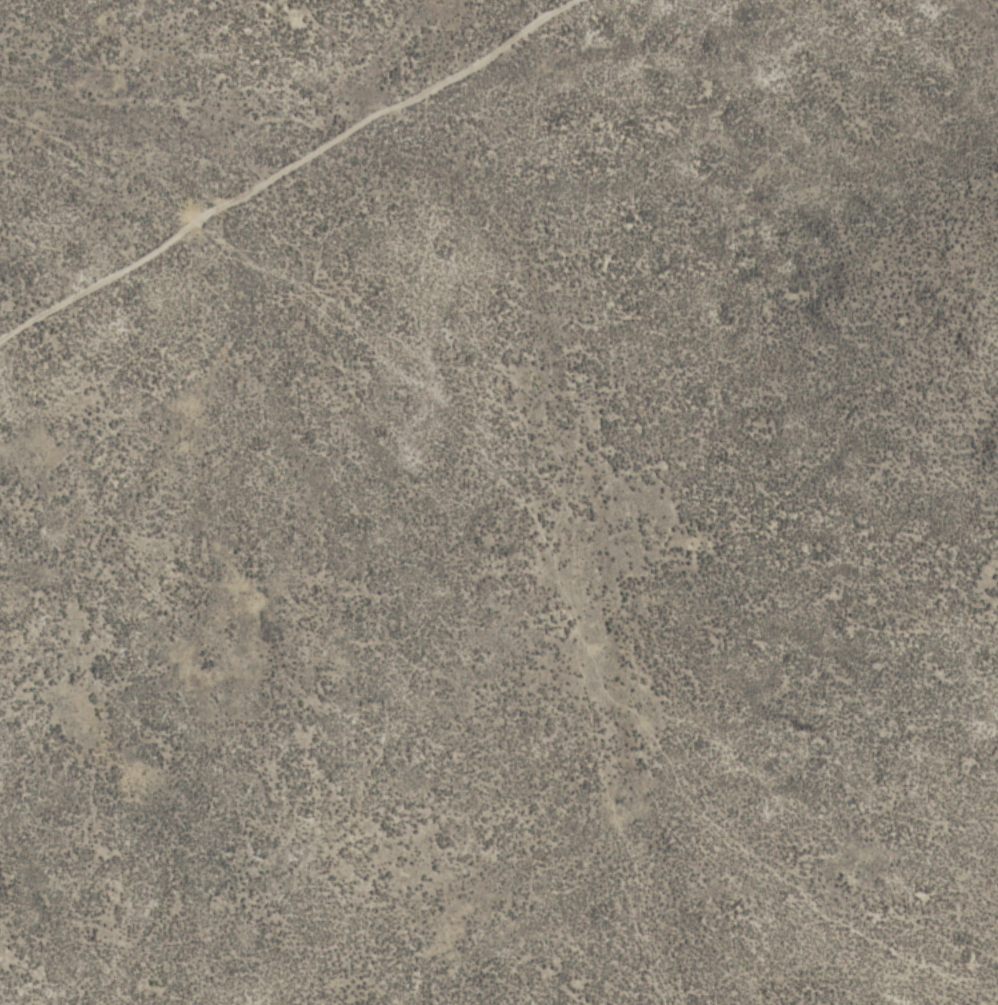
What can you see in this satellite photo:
road: (287, 169)

